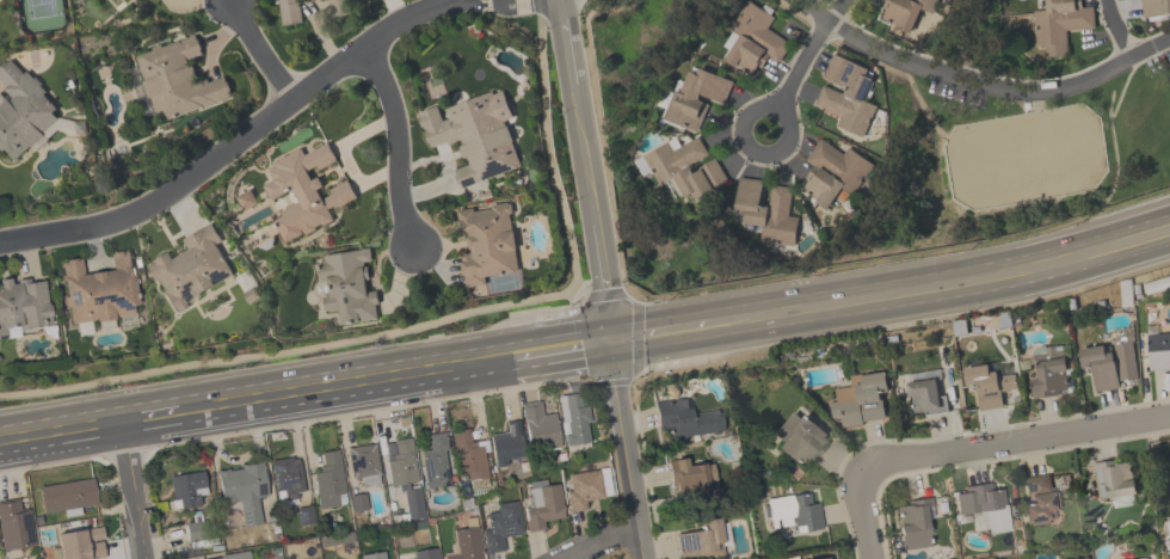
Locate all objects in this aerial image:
road: (506, 4)
building: (339, 6)
building: (1154, 7)
building: (290, 12)
building: (906, 13)
building: (1060, 24)
road: (1114, 29)
building: (753, 41)
road: (258, 51)
road: (807, 55)
building: (176, 80)
road: (978, 84)
building: (846, 96)
building: (695, 98)
building: (24, 113)
road: (746, 128)
road: (395, 142)
road: (238, 143)
building: (478, 143)
building: (682, 170)
road: (584, 171)
building: (832, 173)
building: (306, 191)
building: (246, 199)
building: (766, 213)
building: (487, 242)
building: (192, 269)
road: (934, 274)
building: (349, 285)
building: (100, 290)
road: (936, 301)
building: (24, 307)
road: (675, 333)
road: (632, 340)
traffic signals: (612, 344)
building: (1158, 349)
road: (565, 352)
road: (512, 361)
building: (1110, 365)
building: (1048, 370)
building: (991, 385)
road: (351, 387)
building: (925, 393)
building: (861, 400)
road: (156, 418)
building: (685, 419)
building: (574, 420)
building: (540, 430)
road: (59, 434)
building: (801, 440)
road: (1014, 442)
building: (507, 447)
road: (627, 451)
building: (468, 456)
building: (436, 463)
building: (363, 466)
building: (405, 474)
building: (688, 479)
building: (288, 480)
building: (330, 480)
building: (1114, 480)
building: (187, 490)
building: (586, 490)
building: (244, 491)
road: (129, 492)
building: (68, 497)
building: (1040, 500)
building: (359, 503)
building: (542, 506)
building: (987, 508)
building: (795, 512)
road: (864, 514)
building: (913, 522)
building: (501, 527)
building: (14, 528)
building: (193, 533)
building: (703, 541)
road: (602, 543)
building: (466, 545)
building: (424, 554)
building: (374, 555)
building: (1123, 555)
building: (233, 557)
building: (826, 558)
building: (830, 558)

